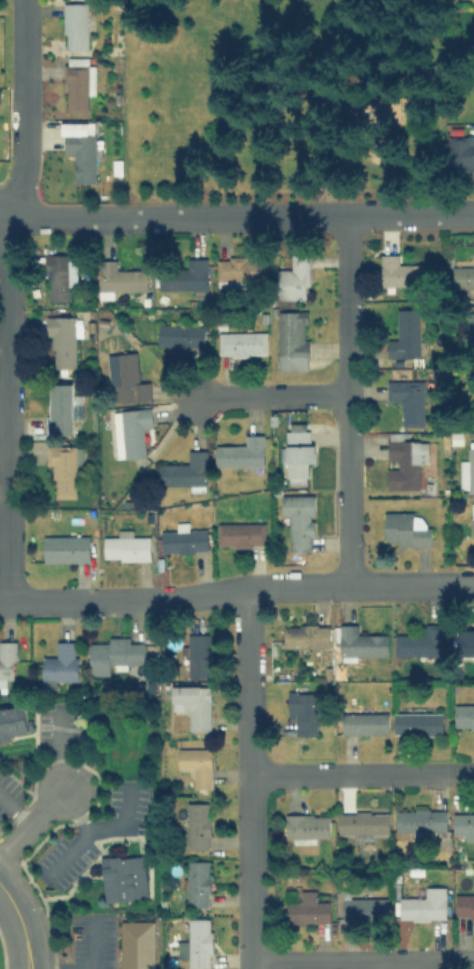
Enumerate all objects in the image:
building: (75, 25)
building: (78, 84)
building: (0, 92)
park: (280, 98)
road: (342, 98)
building: (81, 149)
building: (461, 153)
road: (236, 215)
building: (239, 270)
building: (401, 272)
building: (184, 275)
building: (60, 276)
building: (463, 276)
building: (118, 278)
building: (293, 278)
road: (4, 299)
building: (470, 327)
building: (405, 333)
building: (180, 335)
building: (292, 339)
building: (63, 340)
building: (242, 343)
building: (127, 380)
road: (273, 396)
road: (1, 397)
road: (346, 400)
building: (408, 400)
building: (473, 405)
building: (60, 409)
building: (134, 430)
building: (241, 452)
building: (296, 452)
building: (404, 460)
building: (62, 469)
building: (467, 470)
building: (183, 471)
building: (299, 519)
building: (472, 519)
building: (405, 528)
building: (240, 534)
building: (183, 539)
building: (126, 546)
building: (67, 547)
road: (237, 592)
building: (306, 636)
building: (420, 641)
building: (360, 642)
building: (464, 642)
building: (113, 653)
building: (198, 655)
building: (7, 661)
building: (61, 662)
building: (192, 703)
building: (302, 710)
building: (463, 716)
building: (13, 721)
building: (364, 722)
building: (417, 722)
building: (196, 765)
road: (62, 770)
road: (361, 774)
road: (249, 779)
road: (16, 810)
building: (420, 819)
building: (363, 823)
building: (198, 824)
building: (463, 824)
road: (31, 825)
building: (307, 827)
road: (95, 828)
building: (123, 877)
building: (197, 882)
building: (424, 905)
building: (365, 906)
building: (464, 906)
building: (307, 908)
road: (20, 924)
road: (90, 941)
building: (136, 944)
building: (195, 944)
road: (362, 963)

